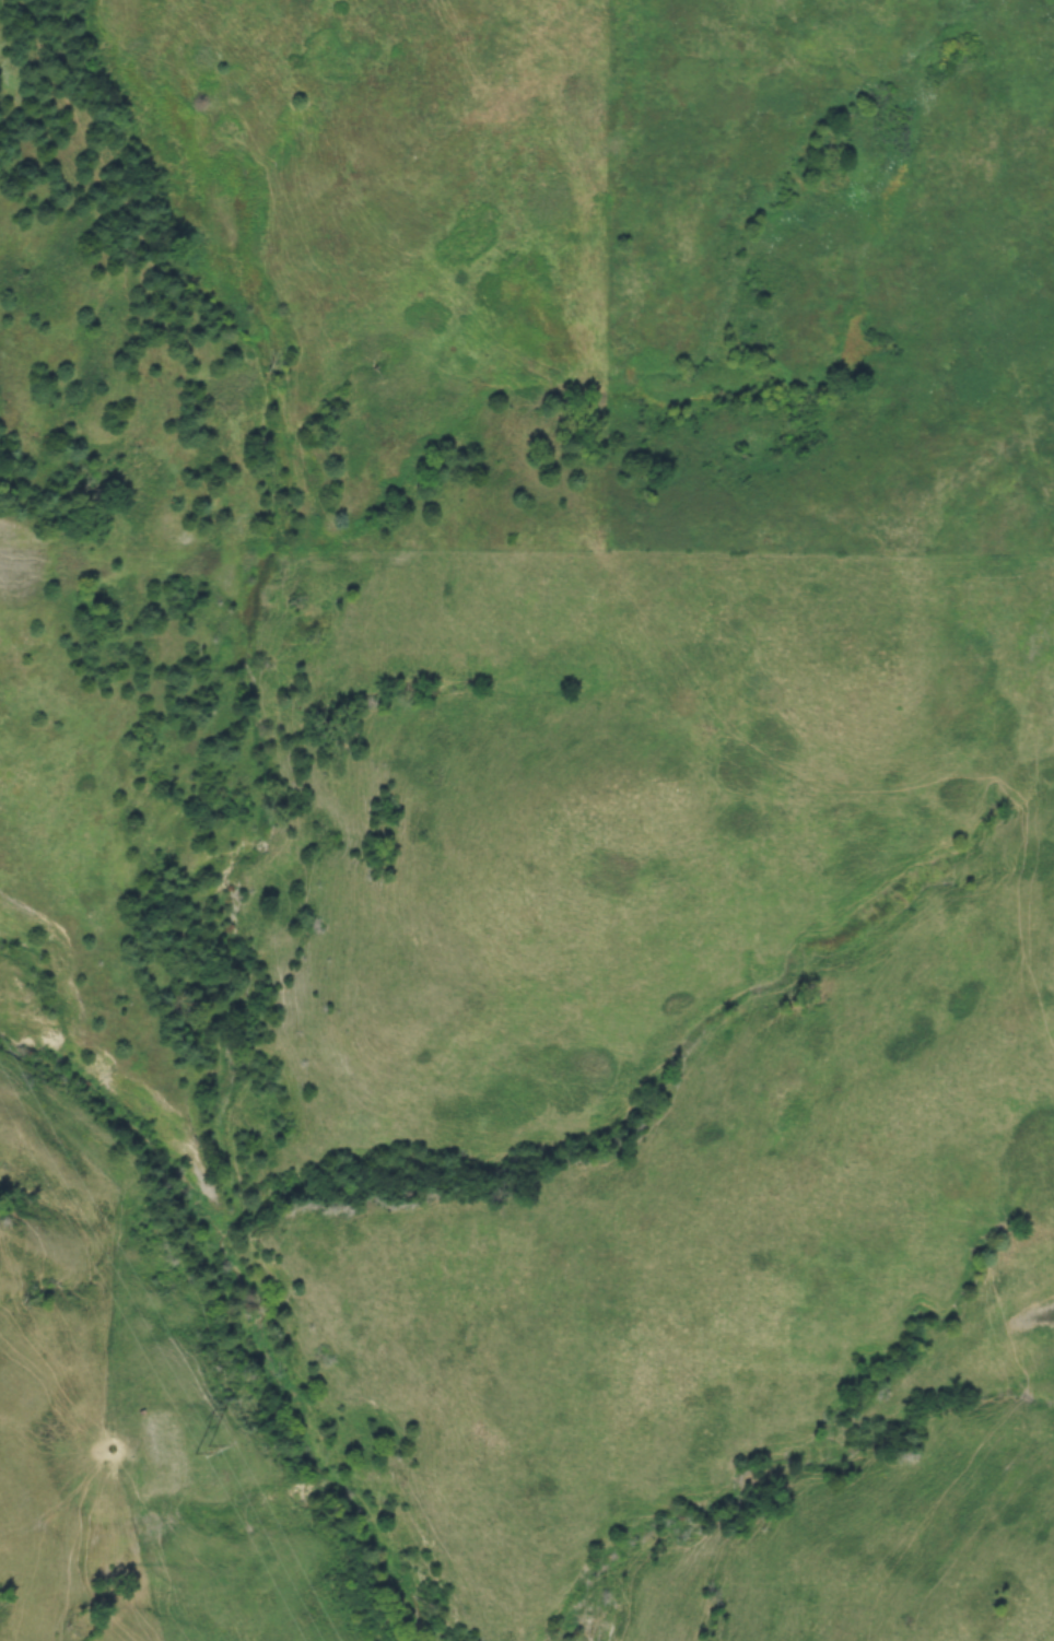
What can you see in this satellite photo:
power tower: (194, 1450)

